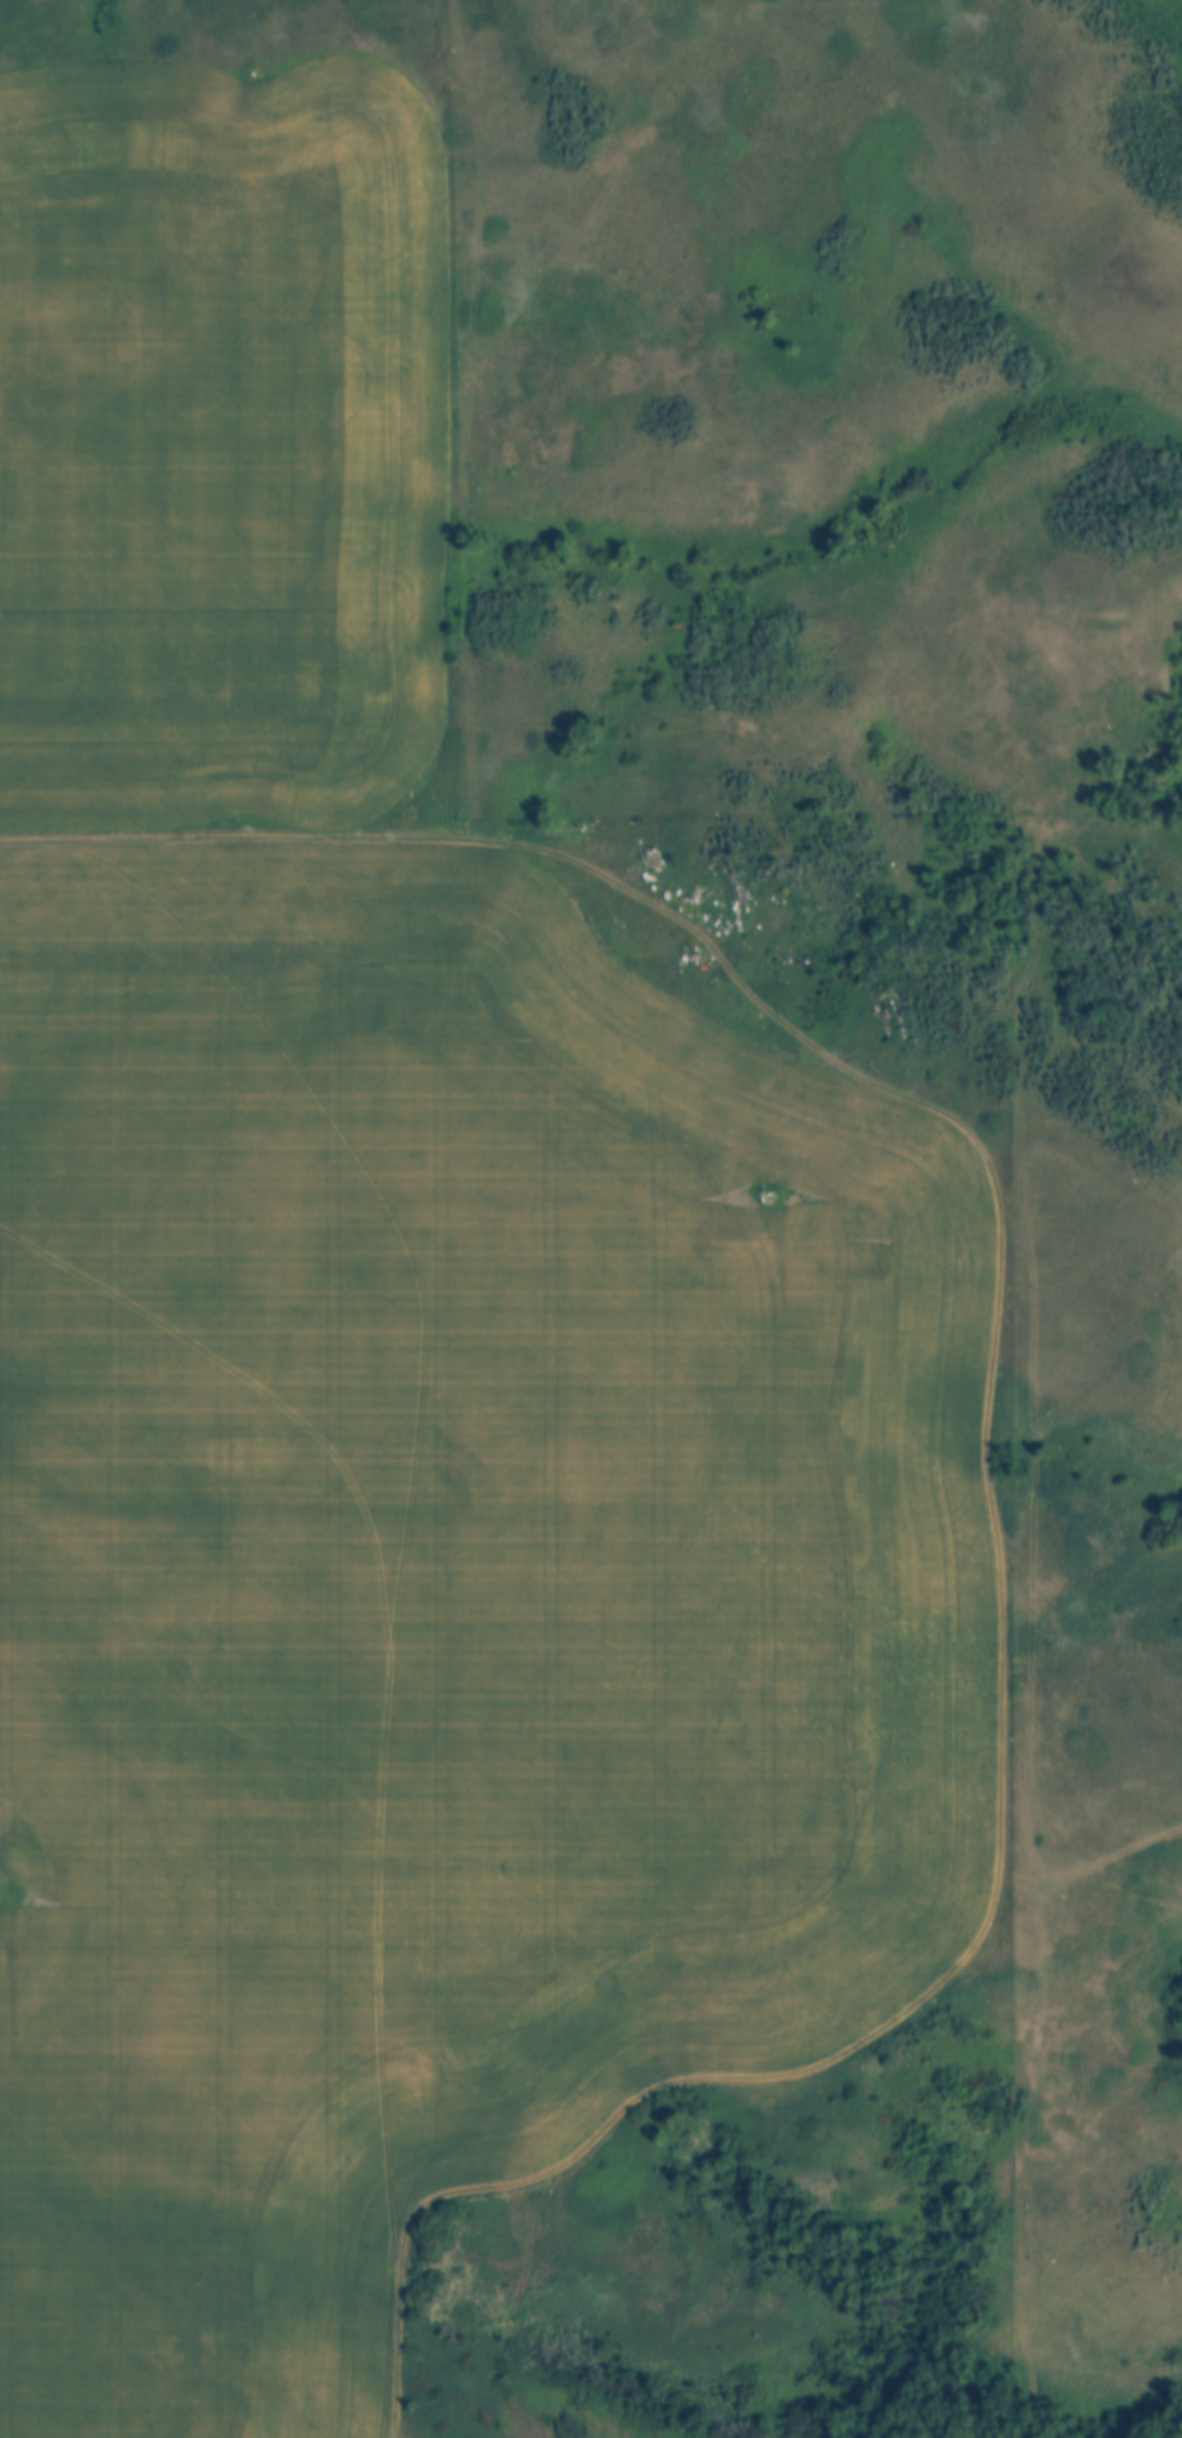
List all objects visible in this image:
road: (913, 1108)

